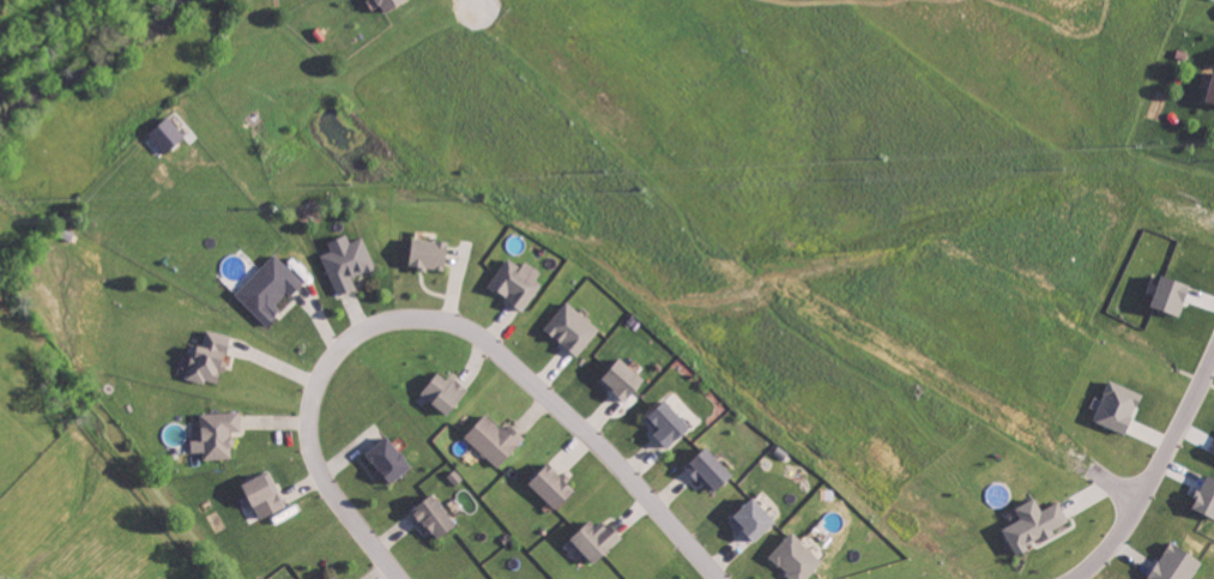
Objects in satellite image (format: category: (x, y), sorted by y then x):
road: (475, 4)
building: (393, 5)
building: (1212, 97)
building: (168, 133)
building: (431, 252)
building: (348, 260)
building: (518, 281)
building: (271, 288)
building: (1173, 292)
road: (443, 319)
building: (573, 327)
building: (211, 356)
building: (626, 376)
building: (445, 391)
building: (1119, 405)
building: (669, 421)
building: (218, 433)
building: (496, 438)
building: (391, 458)
building: (712, 468)
road: (1156, 474)
building: (554, 484)
building: (266, 493)
building: (1207, 495)
building: (436, 515)
building: (756, 517)
building: (1037, 523)
building: (598, 538)
building: (797, 556)
building: (1177, 563)
building: (333, 578)

